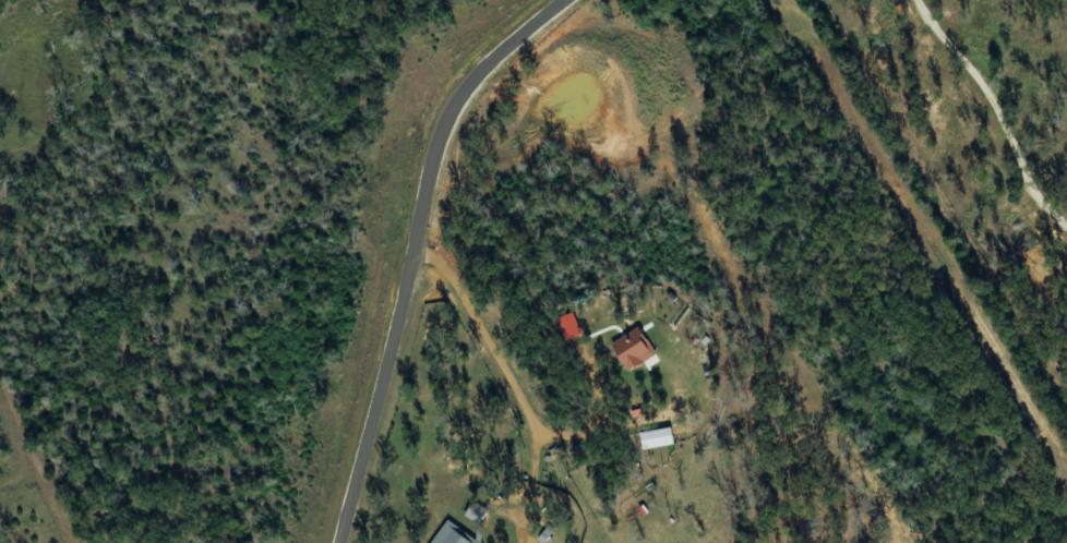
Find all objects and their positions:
road: (998, 109)
road: (416, 248)
road: (55, 427)
building: (660, 438)

